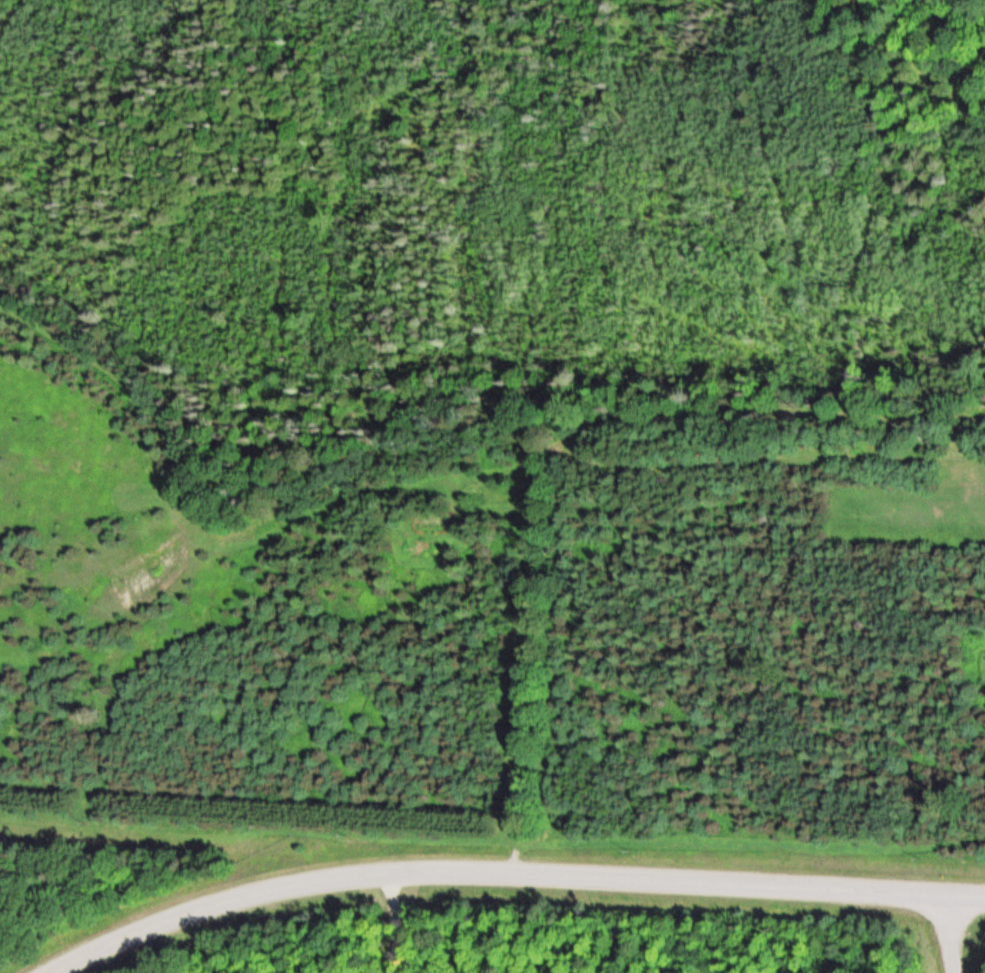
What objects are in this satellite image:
road: (510, 874)
road: (946, 933)

